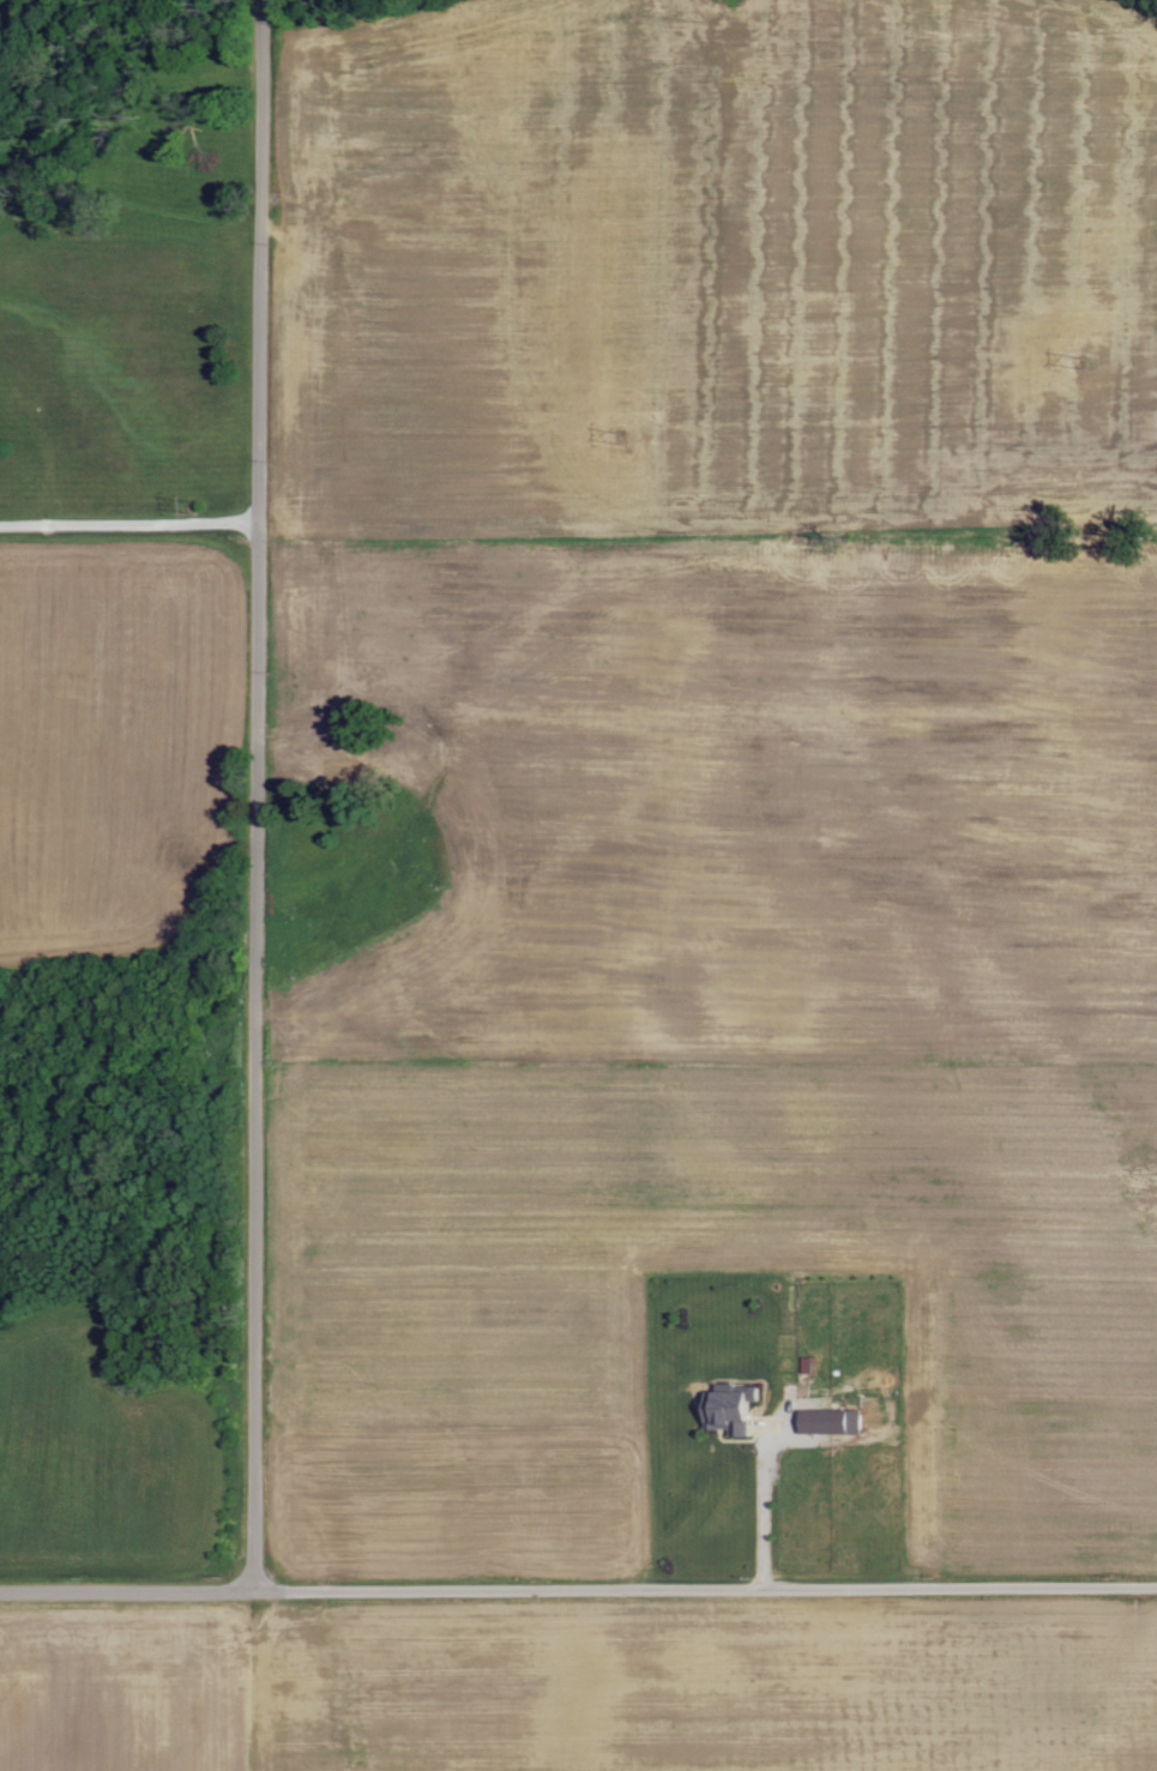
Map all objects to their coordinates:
road: (259, 796)
building: (727, 1414)
building: (826, 1423)
road: (578, 1592)

